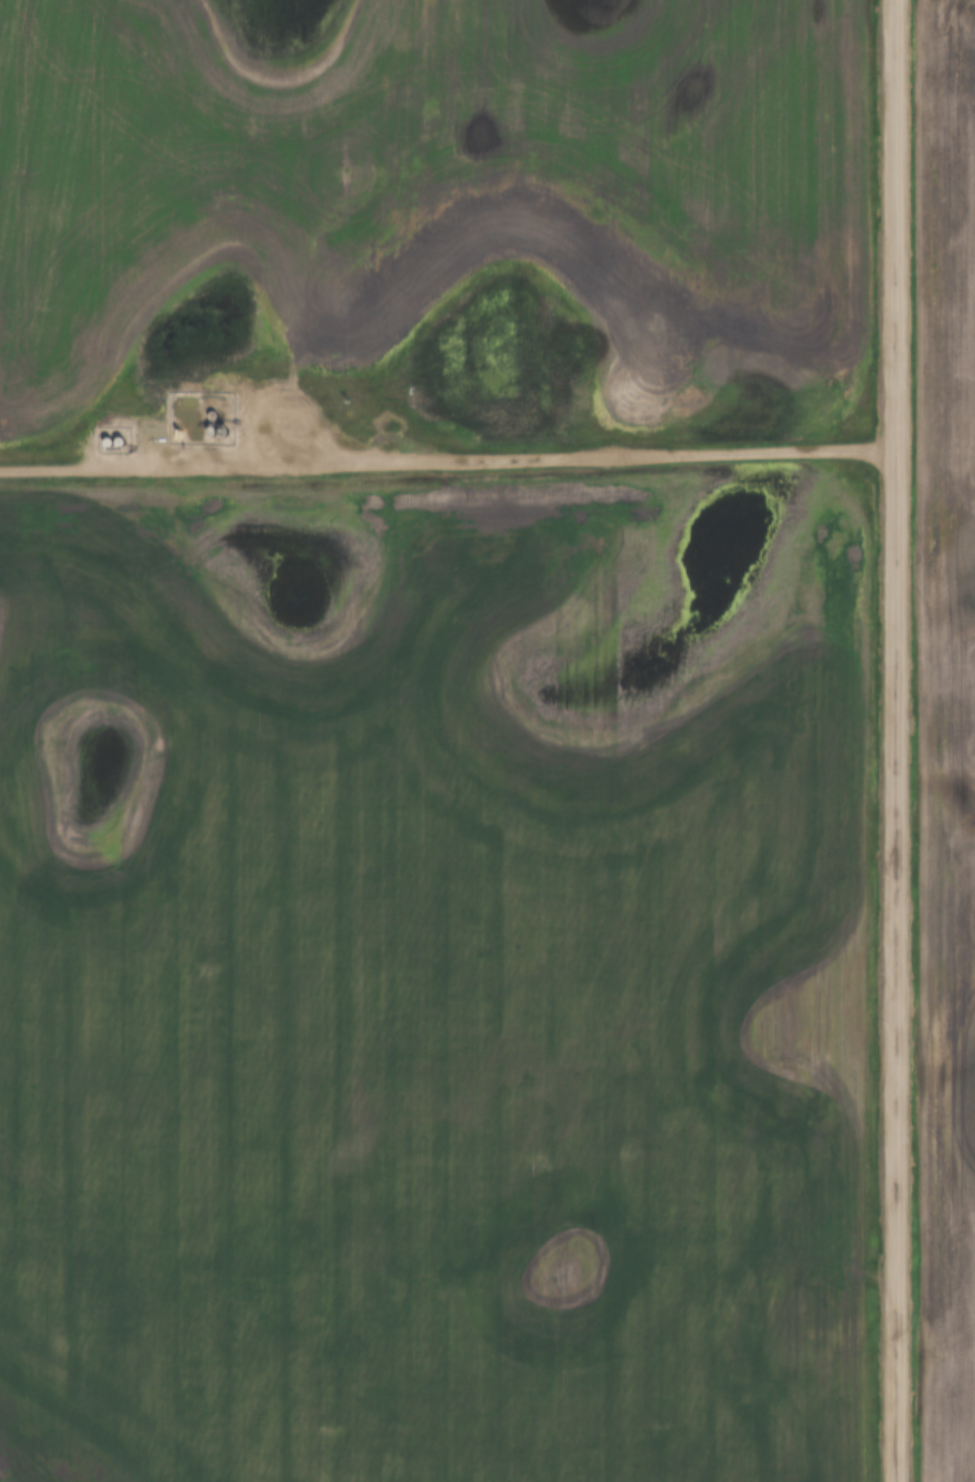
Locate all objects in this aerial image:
road: (447, 460)
road: (895, 740)

